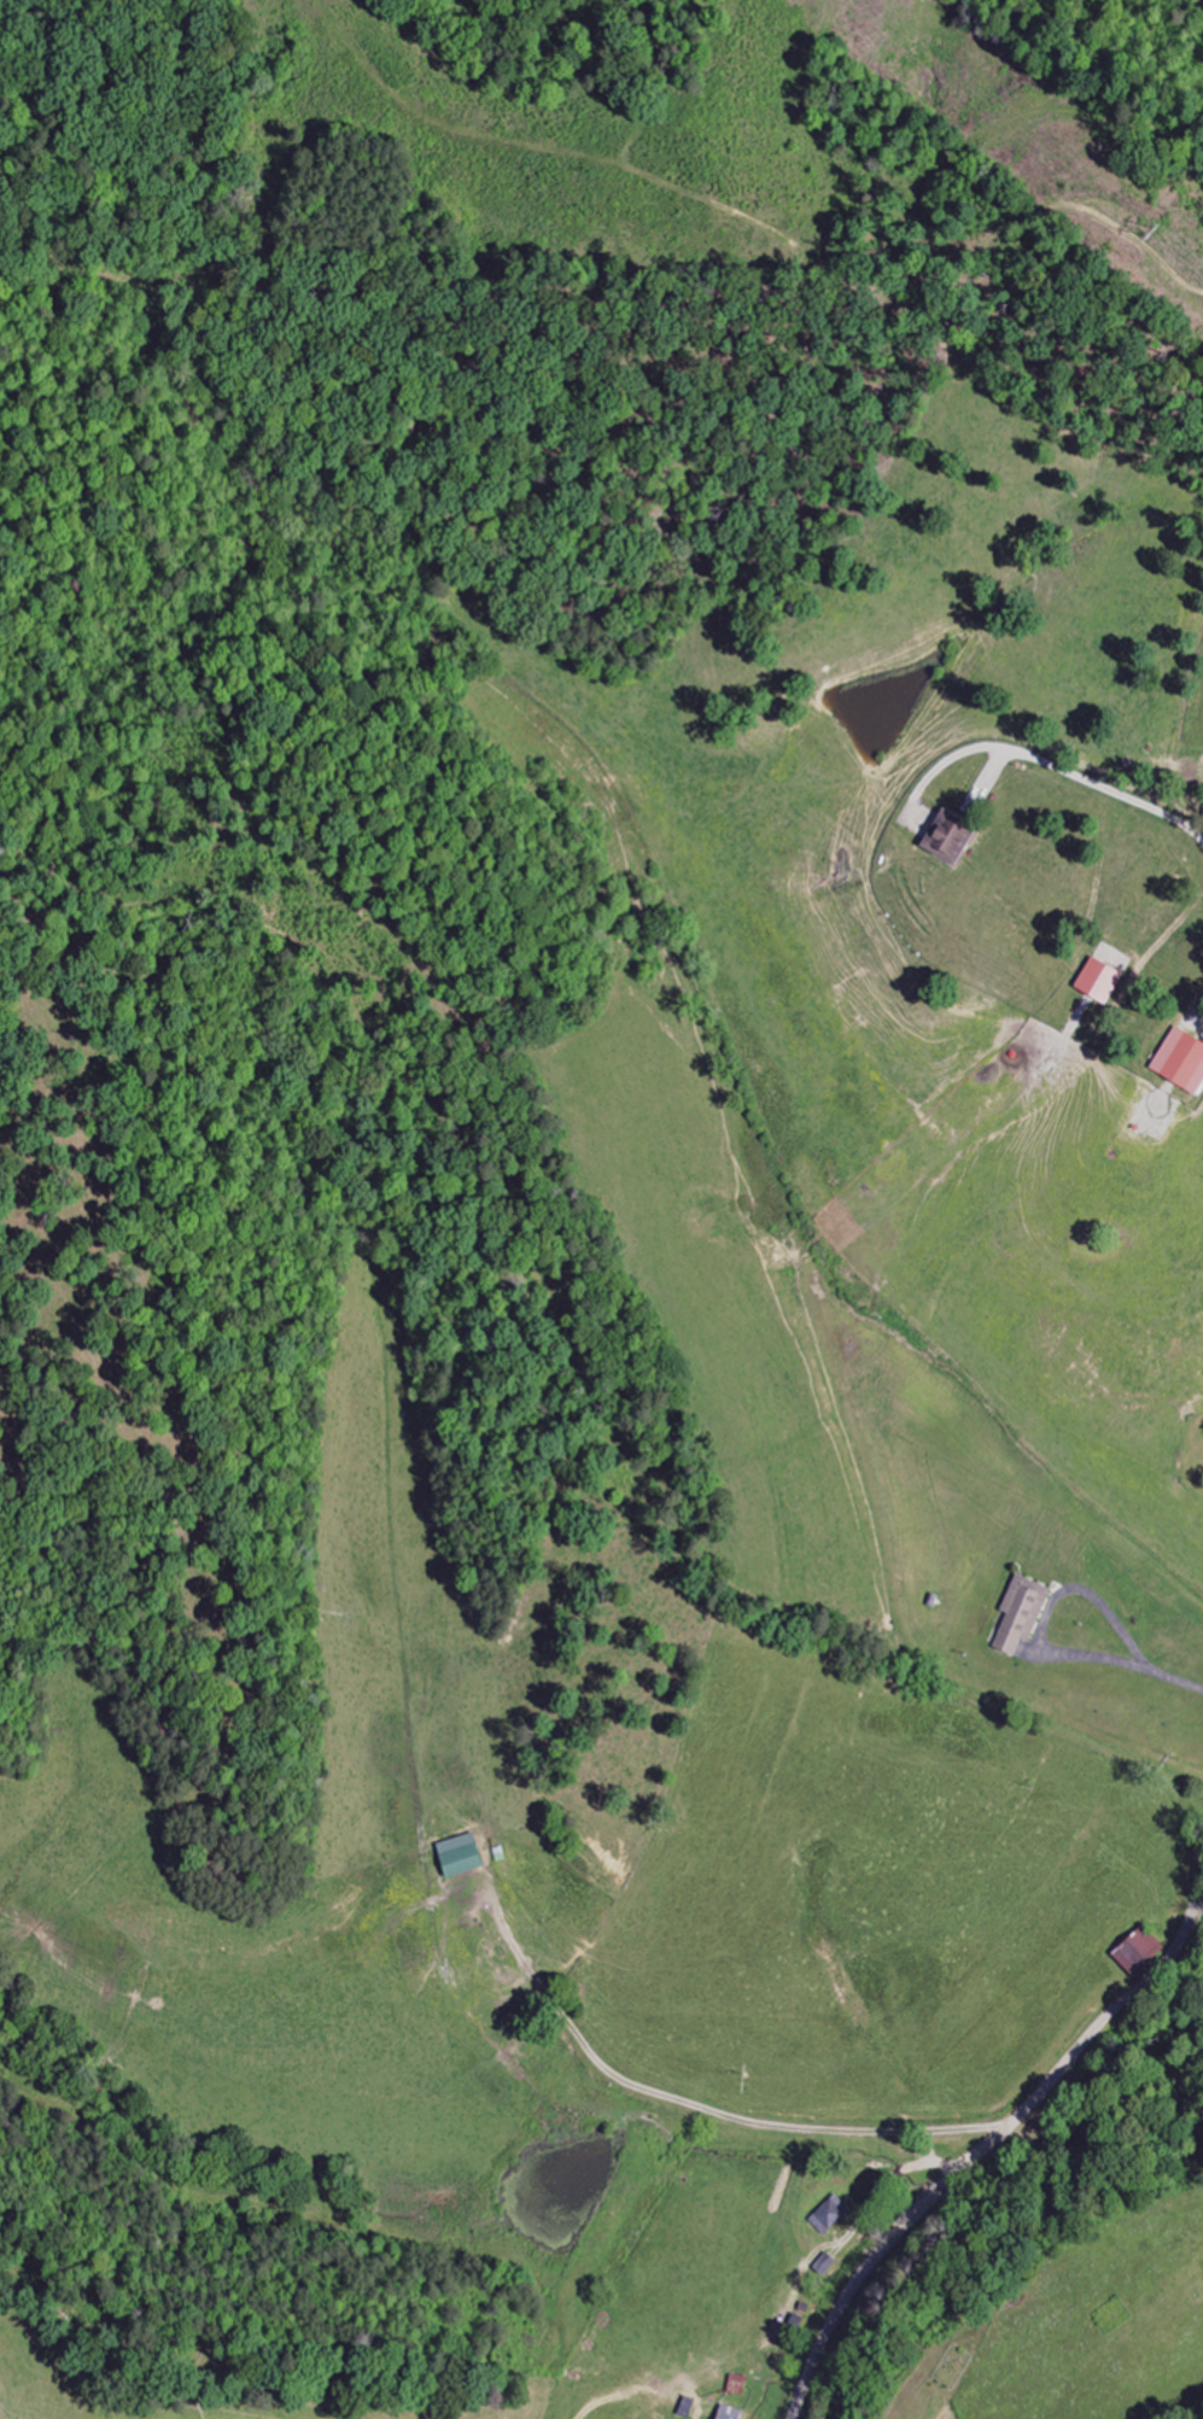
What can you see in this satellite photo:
building: (946, 839)
building: (1097, 981)
building: (1180, 1062)
building: (1020, 1612)
building: (457, 1854)
building: (1135, 1951)
road: (1157, 1969)
road: (918, 2213)
building: (827, 2214)
building: (822, 2263)
building: (735, 2384)
building: (726, 2413)

